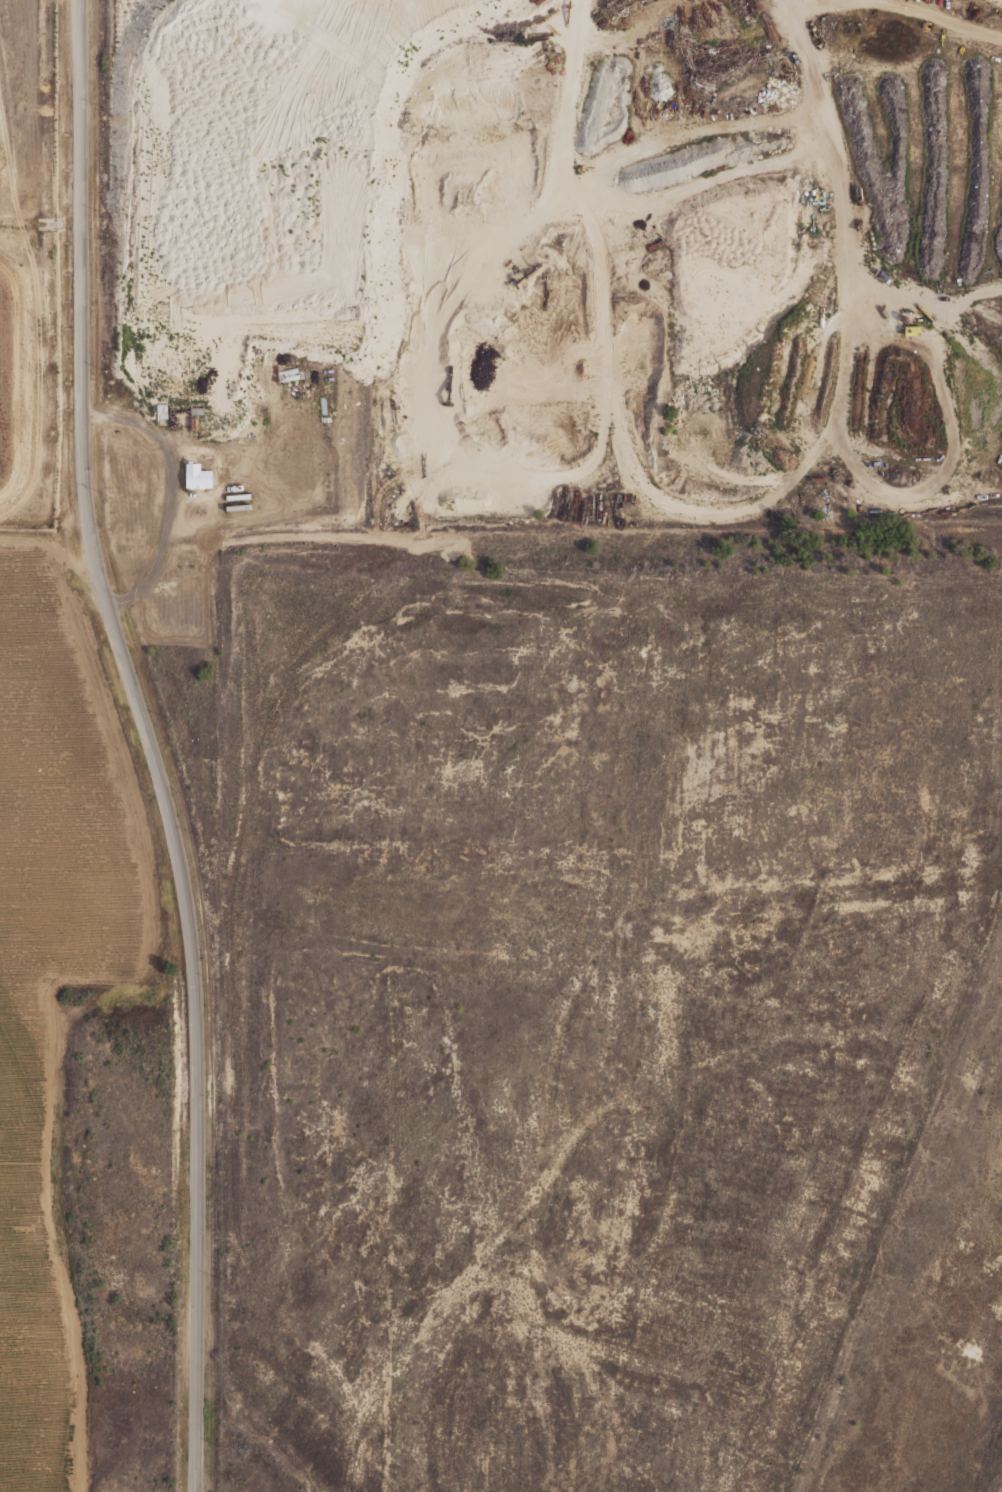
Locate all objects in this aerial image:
road: (797, 10)
road: (918, 11)
road: (333, 14)
road: (115, 107)
road: (579, 191)
road: (299, 234)
landfill: (31, 261)
road: (983, 306)
road: (36, 309)
road: (939, 375)
road: (20, 382)
road: (425, 402)
building: (161, 409)
building: (198, 476)
road: (172, 495)
building: (238, 496)
building: (239, 507)
road: (717, 513)
road: (12, 539)
road: (150, 743)

